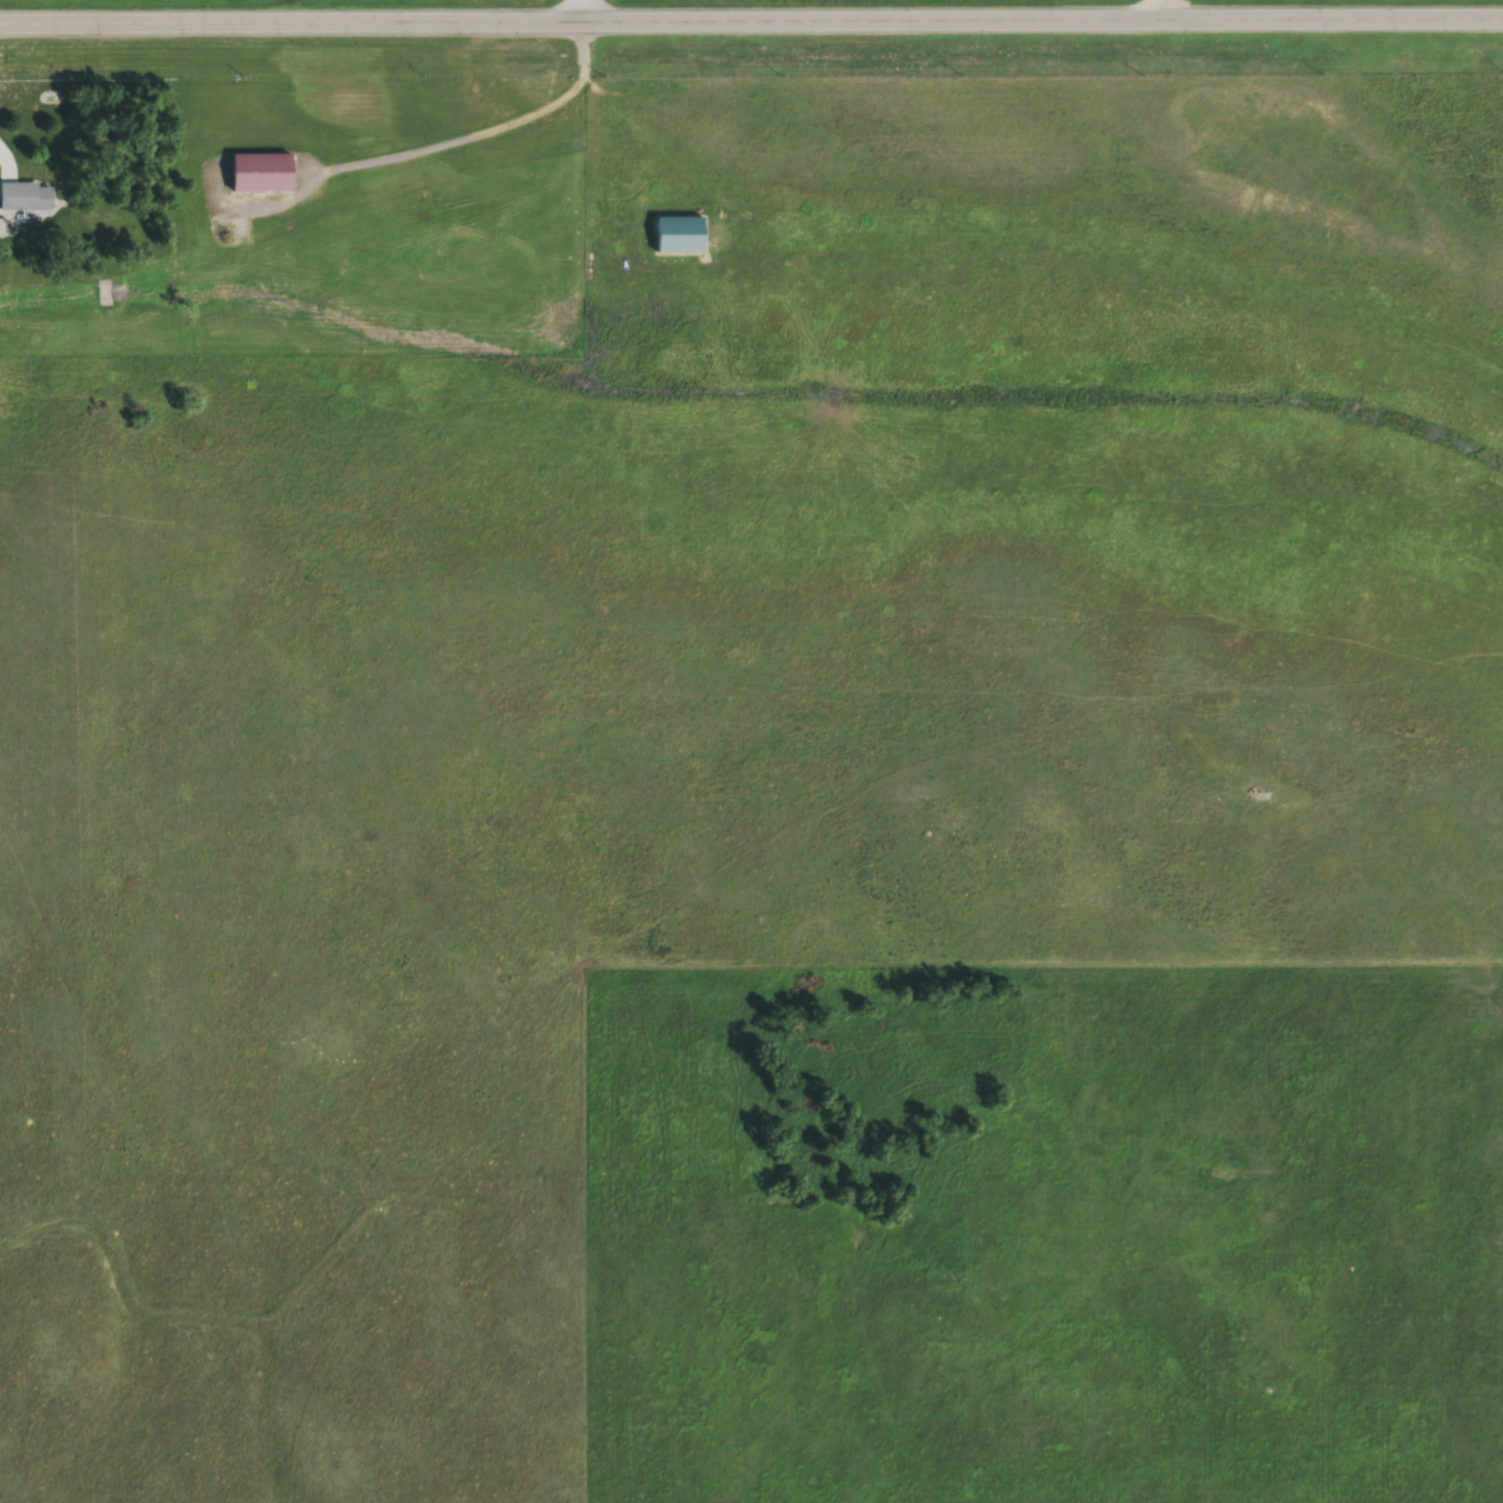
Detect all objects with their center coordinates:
road: (1168, 8)
road: (588, 9)
road: (751, 19)
road: (7, 160)
building: (263, 173)
building: (28, 196)
building: (681, 235)

